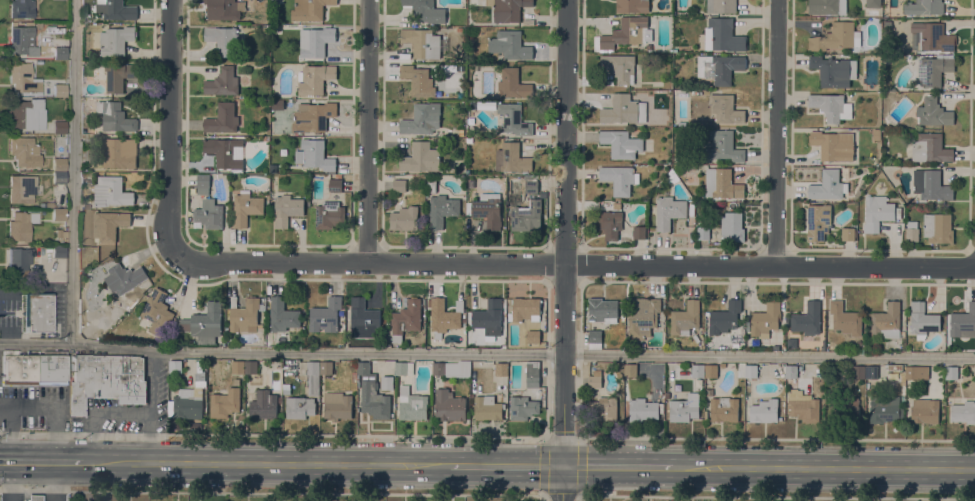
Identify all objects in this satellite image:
building: (275, 1)
building: (873, 3)
building: (632, 6)
building: (721, 6)
building: (827, 7)
building: (924, 7)
building: (21, 9)
building: (115, 9)
building: (224, 9)
building: (508, 9)
building: (309, 10)
building: (426, 11)
building: (61, 17)
building: (275, 28)
building: (266, 29)
building: (626, 32)
building: (723, 36)
building: (836, 36)
building: (932, 37)
building: (22, 39)
building: (222, 39)
building: (116, 40)
building: (316, 41)
building: (422, 42)
building: (510, 45)
building: (60, 53)
building: (619, 67)
building: (719, 67)
building: (934, 68)
building: (834, 71)
building: (111, 75)
building: (314, 78)
building: (23, 79)
building: (418, 80)
building: (222, 82)
building: (513, 84)
building: (59, 90)
building: (680, 94)
building: (277, 104)
building: (490, 106)
building: (831, 106)
building: (726, 108)
building: (623, 109)
building: (933, 112)
building: (26, 114)
building: (115, 116)
building: (312, 116)
building: (223, 118)
building: (422, 119)
building: (512, 119)
building: (689, 122)
building: (59, 127)
road: (170, 131)
road: (367, 132)
road: (778, 133)
building: (876, 134)
building: (621, 143)
building: (833, 145)
building: (723, 146)
building: (931, 148)
building: (24, 151)
building: (119, 152)
building: (224, 152)
building: (314, 155)
building: (421, 158)
building: (513, 158)
building: (59, 164)
road: (72, 172)
building: (58, 177)
building: (672, 177)
building: (618, 179)
building: (335, 184)
building: (531, 184)
building: (722, 184)
building: (930, 184)
building: (399, 185)
building: (828, 185)
building: (21, 189)
building: (111, 191)
building: (49, 205)
building: (207, 205)
building: (86, 206)
building: (246, 207)
building: (286, 209)
building: (442, 209)
building: (486, 209)
building: (669, 211)
building: (877, 212)
building: (58, 214)
building: (329, 214)
building: (526, 215)
building: (404, 218)
building: (818, 221)
building: (610, 224)
building: (108, 225)
building: (20, 226)
building: (732, 227)
building: (938, 228)
building: (639, 232)
building: (703, 232)
building: (60, 233)
building: (848, 233)
building: (912, 234)
building: (48, 248)
road: (567, 250)
building: (58, 251)
building: (17, 263)
road: (575, 265)
building: (126, 278)
building: (130, 297)
building: (525, 309)
building: (602, 310)
building: (157, 311)
building: (37, 312)
building: (117, 312)
building: (282, 315)
building: (325, 315)
building: (245, 316)
building: (444, 316)
building: (642, 317)
building: (725, 317)
building: (363, 318)
building: (489, 318)
building: (685, 318)
building: (845, 318)
building: (406, 319)
building: (765, 319)
building: (807, 319)
building: (923, 320)
building: (887, 321)
building: (963, 321)
building: (205, 324)
building: (533, 336)
building: (595, 339)
building: (791, 342)
building: (859, 343)
road: (487, 354)
building: (238, 366)
building: (175, 367)
building: (251, 367)
building: (326, 367)
building: (894, 367)
building: (33, 368)
building: (404, 368)
building: (501, 368)
building: (452, 369)
building: (631, 370)
building: (698, 370)
building: (711, 370)
building: (751, 370)
building: (597, 371)
building: (791, 371)
building: (858, 371)
building: (871, 371)
building: (917, 372)
building: (952, 372)
building: (532, 374)
building: (313, 377)
building: (106, 379)
building: (387, 382)
building: (594, 382)
building: (286, 387)
building: (372, 394)
building: (191, 397)
building: (225, 401)
building: (263, 404)
building: (412, 404)
building: (337, 405)
building: (450, 405)
road: (151, 406)
building: (299, 407)
building: (523, 407)
building: (803, 407)
building: (488, 408)
building: (604, 408)
building: (685, 408)
building: (724, 408)
building: (884, 408)
building: (642, 409)
building: (845, 409)
road: (52, 410)
building: (764, 410)
building: (924, 410)
building: (963, 412)
road: (99, 415)
road: (9, 434)
road: (272, 435)
road: (579, 437)
road: (777, 438)
road: (43, 462)
road: (269, 463)
road: (507, 465)
traffic signals: (563, 466)
road: (618, 466)
road: (824, 469)
road: (272, 491)
road: (776, 496)
building: (33, 498)
gas station: (33, 498)

